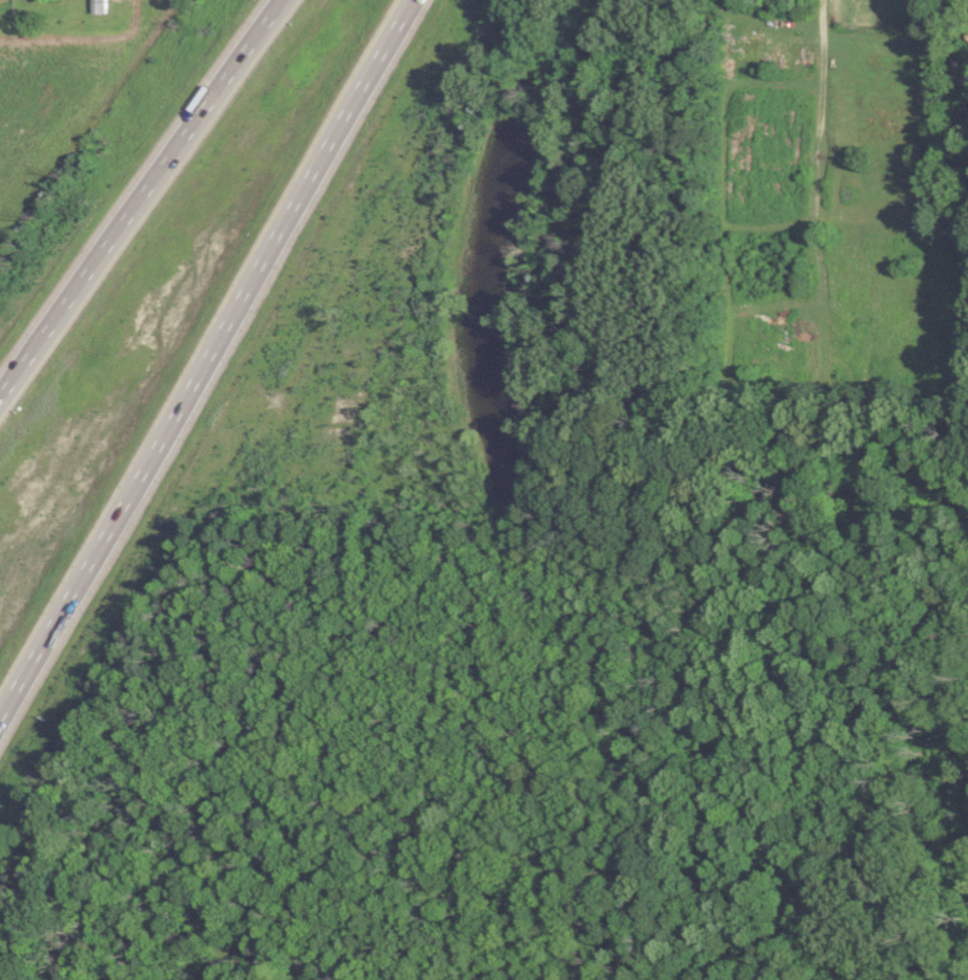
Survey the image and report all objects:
building: (95, 7)
building: (966, 27)
crop: (57, 88)
road: (146, 200)
road: (205, 356)

